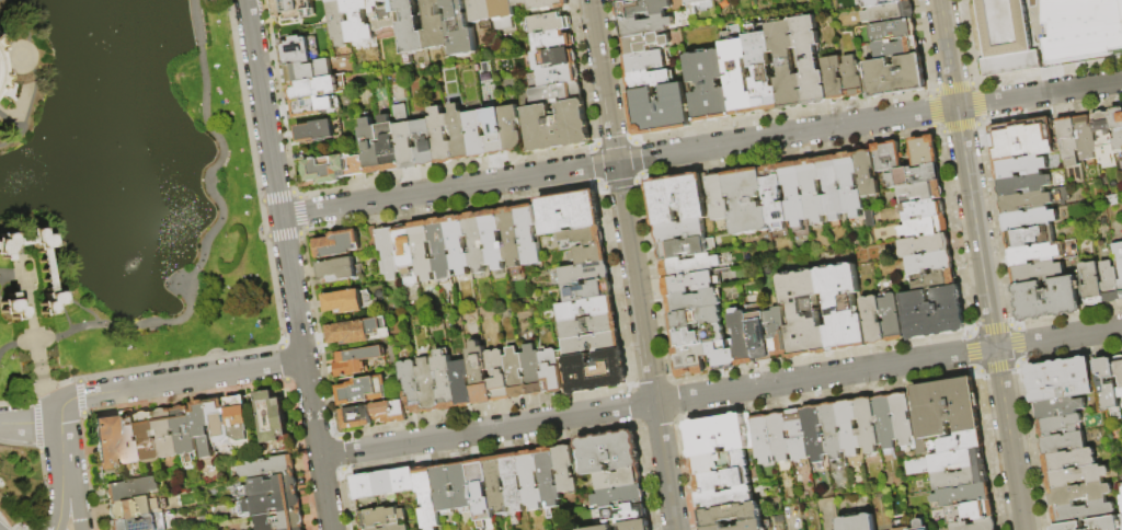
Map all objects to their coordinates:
building: (622, 1)
building: (698, 1)
building: (897, 1)
building: (518, 2)
building: (873, 2)
building: (548, 3)
building: (640, 8)
building: (294, 9)
building: (481, 12)
building: (889, 13)
building: (385, 14)
building: (502, 14)
building: (0, 21)
building: (359, 21)
building: (337, 22)
building: (548, 23)
building: (436, 25)
building: (644, 26)
building: (411, 27)
building: (460, 30)
building: (893, 30)
building: (2, 34)
building: (1007, 36)
building: (552, 41)
building: (1108, 42)
building: (644, 44)
building: (895, 47)
building: (0, 50)
building: (300, 50)
road: (948, 54)
road: (19, 57)
building: (553, 58)
building: (644, 61)
building: (810, 61)
building: (785, 65)
building: (310, 70)
building: (762, 72)
building: (895, 74)
road: (36, 76)
building: (553, 77)
building: (736, 78)
building: (850, 78)
building: (833, 79)
building: (648, 80)
building: (708, 87)
building: (5, 88)
building: (318, 88)
building: (556, 93)
building: (312, 106)
building: (10, 108)
building: (660, 111)
road: (10, 122)
building: (558, 126)
building: (512, 128)
building: (319, 129)
building: (494, 131)
building: (459, 132)
building: (476, 134)
building: (1117, 134)
building: (440, 136)
building: (404, 138)
building: (1102, 138)
building: (1021, 139)
building: (1085, 139)
building: (1067, 141)
building: (424, 142)
building: (388, 145)
building: (370, 147)
road: (701, 149)
building: (921, 150)
building: (886, 155)
building: (354, 164)
building: (1019, 166)
building: (324, 169)
building: (866, 173)
building: (912, 175)
building: (1022, 184)
building: (849, 185)
building: (831, 187)
building: (921, 189)
park: (124, 191)
building: (812, 191)
building: (793, 194)
building: (774, 196)
building: (719, 197)
building: (676, 198)
building: (746, 201)
building: (1024, 201)
building: (923, 208)
building: (568, 212)
building: (1029, 219)
building: (923, 226)
building: (679, 230)
building: (528, 234)
road: (50, 235)
building: (511, 235)
building: (1028, 237)
building: (493, 239)
building: (580, 239)
building: (476, 241)
building: (337, 244)
building: (457, 244)
building: (923, 244)
road: (205, 247)
building: (440, 247)
building: (680, 249)
road: (21, 250)
building: (385, 250)
building: (423, 250)
building: (407, 254)
building: (1033, 254)
building: (588, 255)
building: (1119, 260)
building: (928, 262)
road: (289, 264)
road: (632, 264)
building: (691, 265)
fountain: (129, 269)
building: (339, 269)
building: (1037, 272)
building: (582, 274)
road: (1, 278)
building: (45, 278)
building: (932, 279)
building: (690, 283)
building: (1110, 283)
building: (1092, 284)
building: (587, 291)
road: (60, 293)
building: (1046, 299)
building: (694, 300)
building: (346, 302)
road: (30, 306)
building: (11, 308)
road: (81, 308)
building: (841, 308)
building: (585, 309)
building: (931, 312)
building: (803, 314)
building: (695, 318)
building: (890, 318)
road: (991, 319)
building: (871, 321)
building: (588, 326)
building: (358, 332)
building: (777, 333)
building: (758, 335)
building: (697, 336)
building: (741, 337)
building: (591, 344)
building: (688, 360)
building: (355, 361)
building: (533, 370)
building: (551, 371)
building: (595, 372)
building: (1119, 372)
building: (479, 373)
building: (515, 373)
building: (497, 376)
building: (1060, 380)
road: (174, 381)
building: (445, 381)
building: (462, 383)
building: (410, 387)
building: (427, 387)
building: (1108, 387)
building: (362, 390)
road: (721, 392)
road: (49, 393)
building: (944, 406)
building: (1060, 406)
building: (1121, 406)
building: (389, 412)
building: (357, 417)
building: (884, 419)
building: (238, 420)
building: (902, 420)
building: (273, 423)
road: (30, 424)
building: (208, 424)
building: (1058, 424)
building: (867, 425)
building: (849, 427)
building: (833, 430)
building: (183, 433)
building: (814, 433)
building: (165, 434)
building: (715, 435)
building: (797, 435)
building: (779, 436)
building: (147, 438)
building: (762, 439)
building: (128, 440)
building: (960, 441)
building: (1063, 442)
road: (60, 443)
building: (105, 443)
building: (608, 451)
building: (1068, 459)
building: (955, 460)
building: (719, 462)
building: (267, 468)
building: (565, 469)
building: (1076, 476)
building: (617, 479)
building: (722, 479)
building: (959, 479)
building: (404, 480)
building: (531, 480)
building: (549, 480)
building: (385, 483)
building: (496, 484)
building: (270, 486)
building: (365, 486)
building: (462, 486)
building: (514, 486)
building: (130, 489)
building: (444, 489)
building: (1120, 491)
building: (480, 492)
park: (21, 493)
building: (1079, 493)
building: (618, 495)
building: (960, 496)
road: (73, 497)
building: (724, 497)
road: (60, 498)
building: (427, 498)
building: (268, 505)
building: (135, 508)
building: (971, 510)
building: (1081, 511)
building: (622, 512)
building: (729, 514)
building: (380, 517)
building: (279, 521)
building: (857, 522)
building: (1107, 522)
building: (135, 523)
building: (634, 525)
building: (901, 525)
building: (919, 525)
building: (975, 525)
building: (741, 526)
building: (1068, 526)
building: (396, 527)
building: (370, 528)
building: (597, 528)
building: (299, 529)

